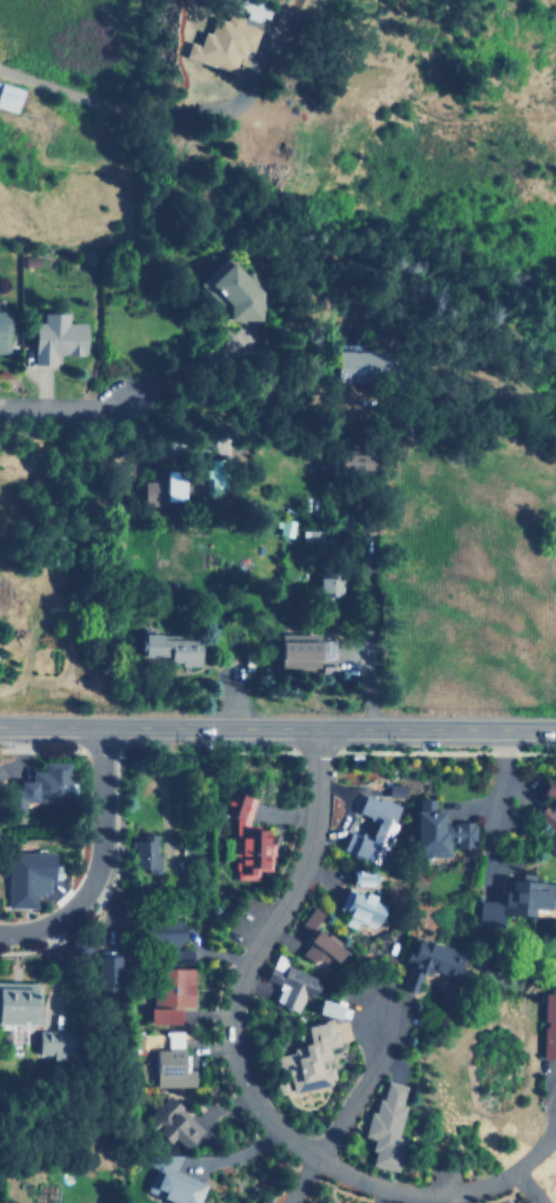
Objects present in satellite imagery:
building: (226, 42)
road: (44, 88)
building: (10, 97)
building: (241, 293)
building: (5, 331)
building: (59, 336)
building: (360, 365)
road: (512, 382)
road: (66, 404)
building: (218, 472)
building: (176, 486)
building: (155, 492)
building: (332, 583)
building: (302, 649)
road: (277, 729)
building: (47, 782)
building: (545, 793)
building: (384, 826)
building: (442, 829)
road: (93, 858)
building: (29, 877)
building: (365, 877)
building: (520, 898)
building: (361, 908)
building: (311, 918)
building: (166, 932)
building: (324, 950)
building: (432, 961)
building: (109, 972)
building: (291, 983)
building: (173, 995)
building: (21, 1001)
building: (332, 1008)
building: (550, 1025)
building: (57, 1043)
building: (314, 1058)
building: (173, 1062)
road: (242, 1086)
road: (549, 1106)
road: (341, 1110)
building: (178, 1123)
building: (388, 1126)
building: (175, 1185)
road: (514, 1190)

